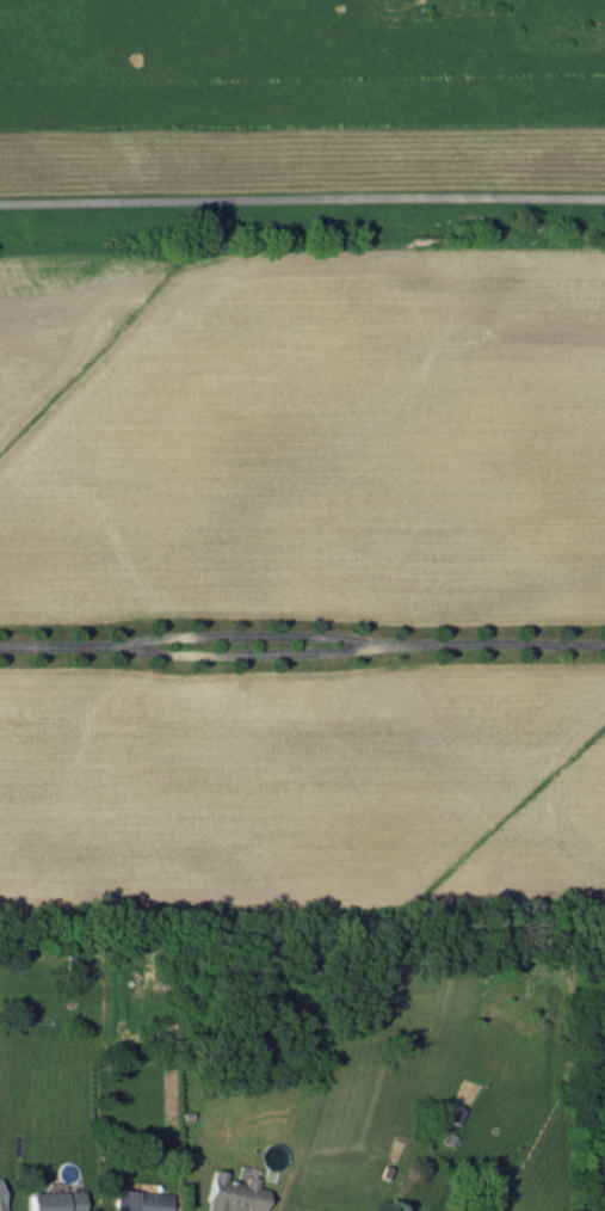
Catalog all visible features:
road: (302, 189)
road: (302, 652)
building: (231, 1193)
building: (54, 1200)
building: (137, 1200)
building: (0, 1205)
building: (294, 1210)
building: (314, 1210)

